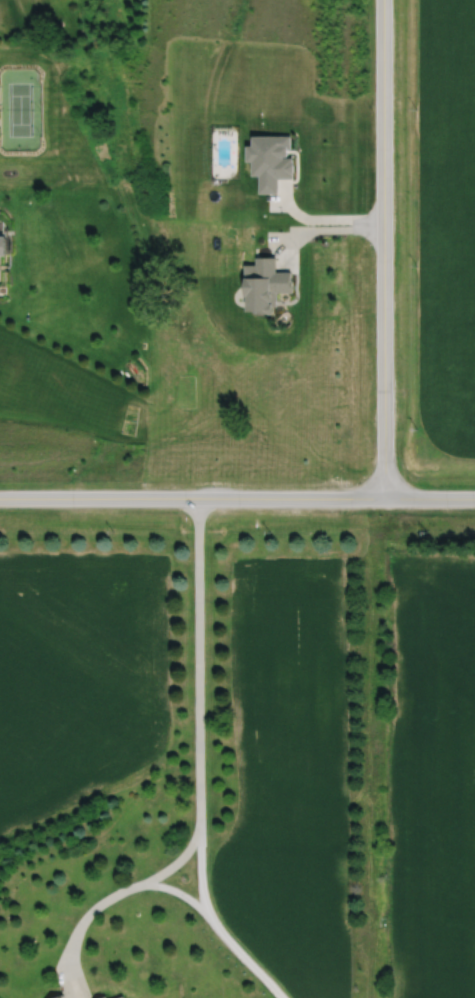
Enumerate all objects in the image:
road: (330, 218)
crop: (445, 227)
building: (4, 246)
road: (391, 249)
building: (267, 285)
road: (237, 498)
road: (197, 665)
crop: (434, 770)
road: (169, 888)
road: (105, 892)
road: (210, 927)
building: (120, 996)
building: (62, 997)

